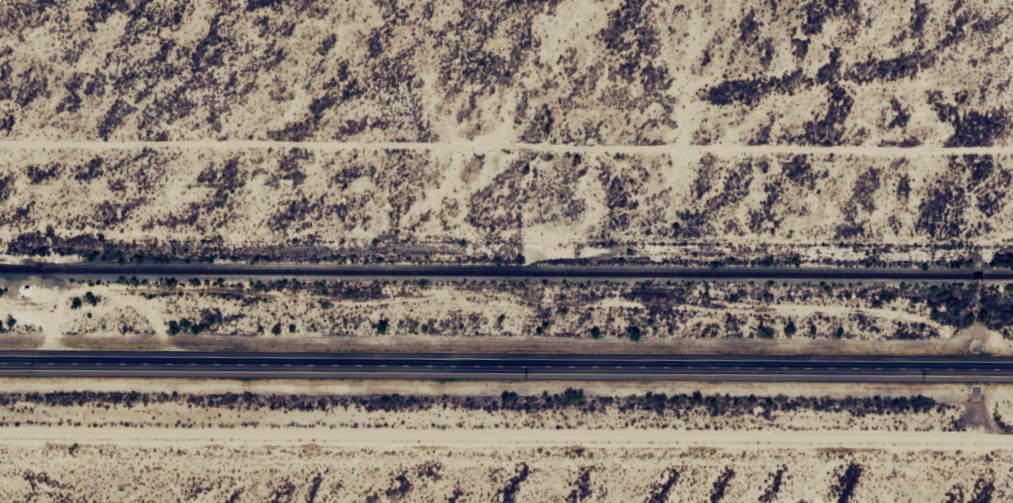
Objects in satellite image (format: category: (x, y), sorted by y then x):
railway: (20, 268)
railway: (506, 273)
road: (506, 363)

